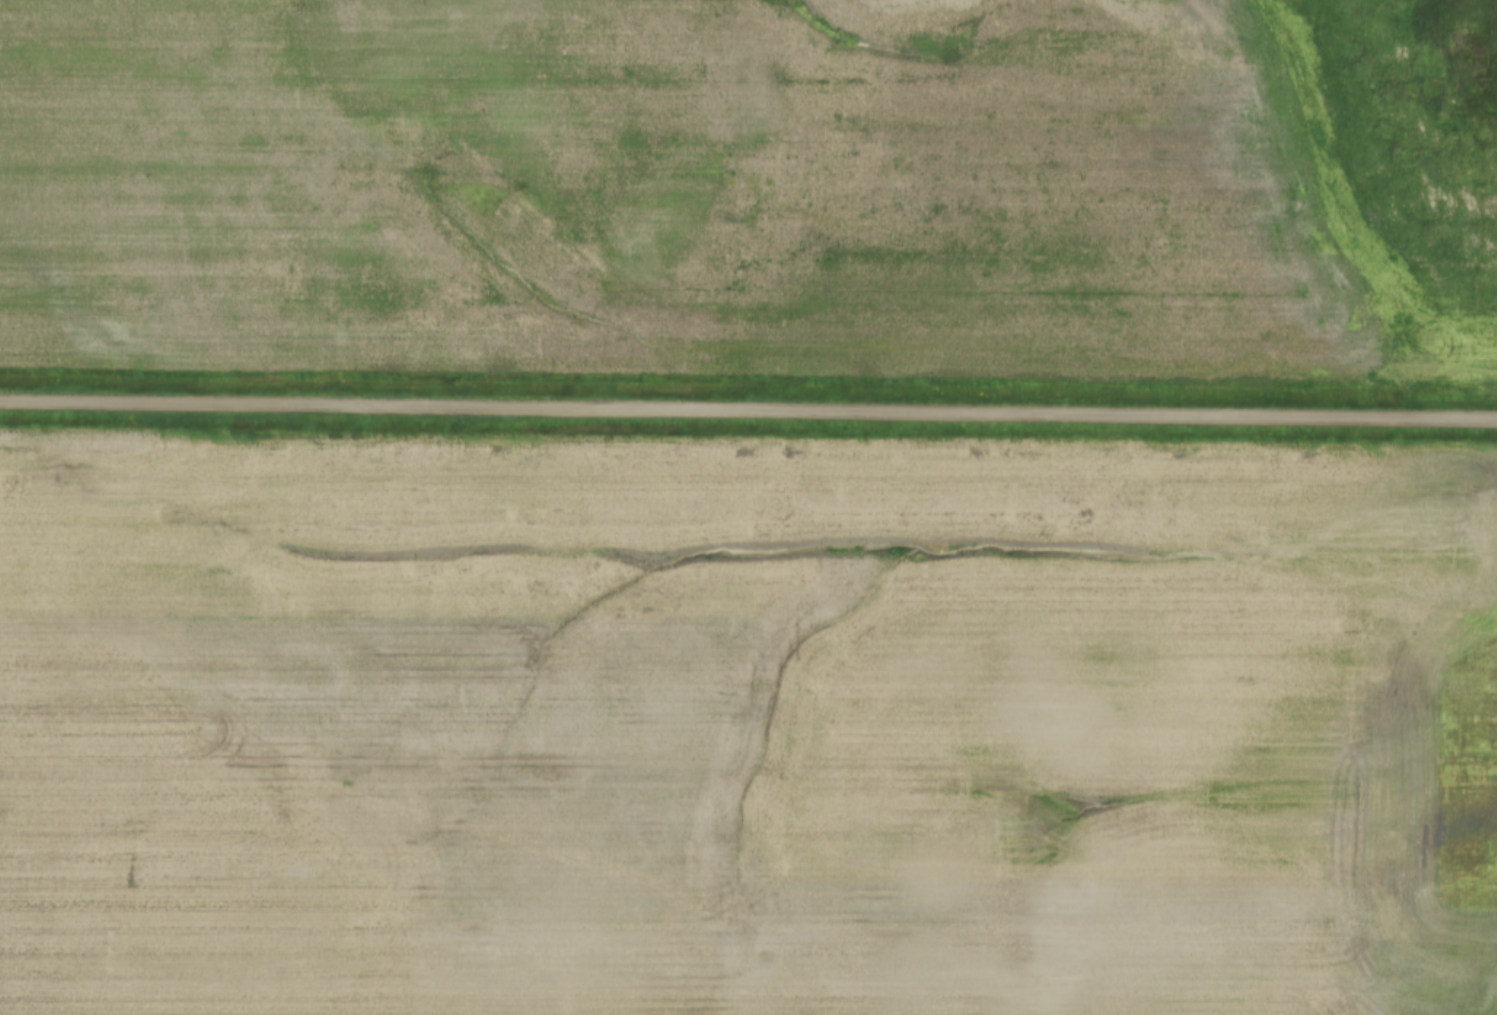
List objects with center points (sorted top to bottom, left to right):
road: (748, 413)

